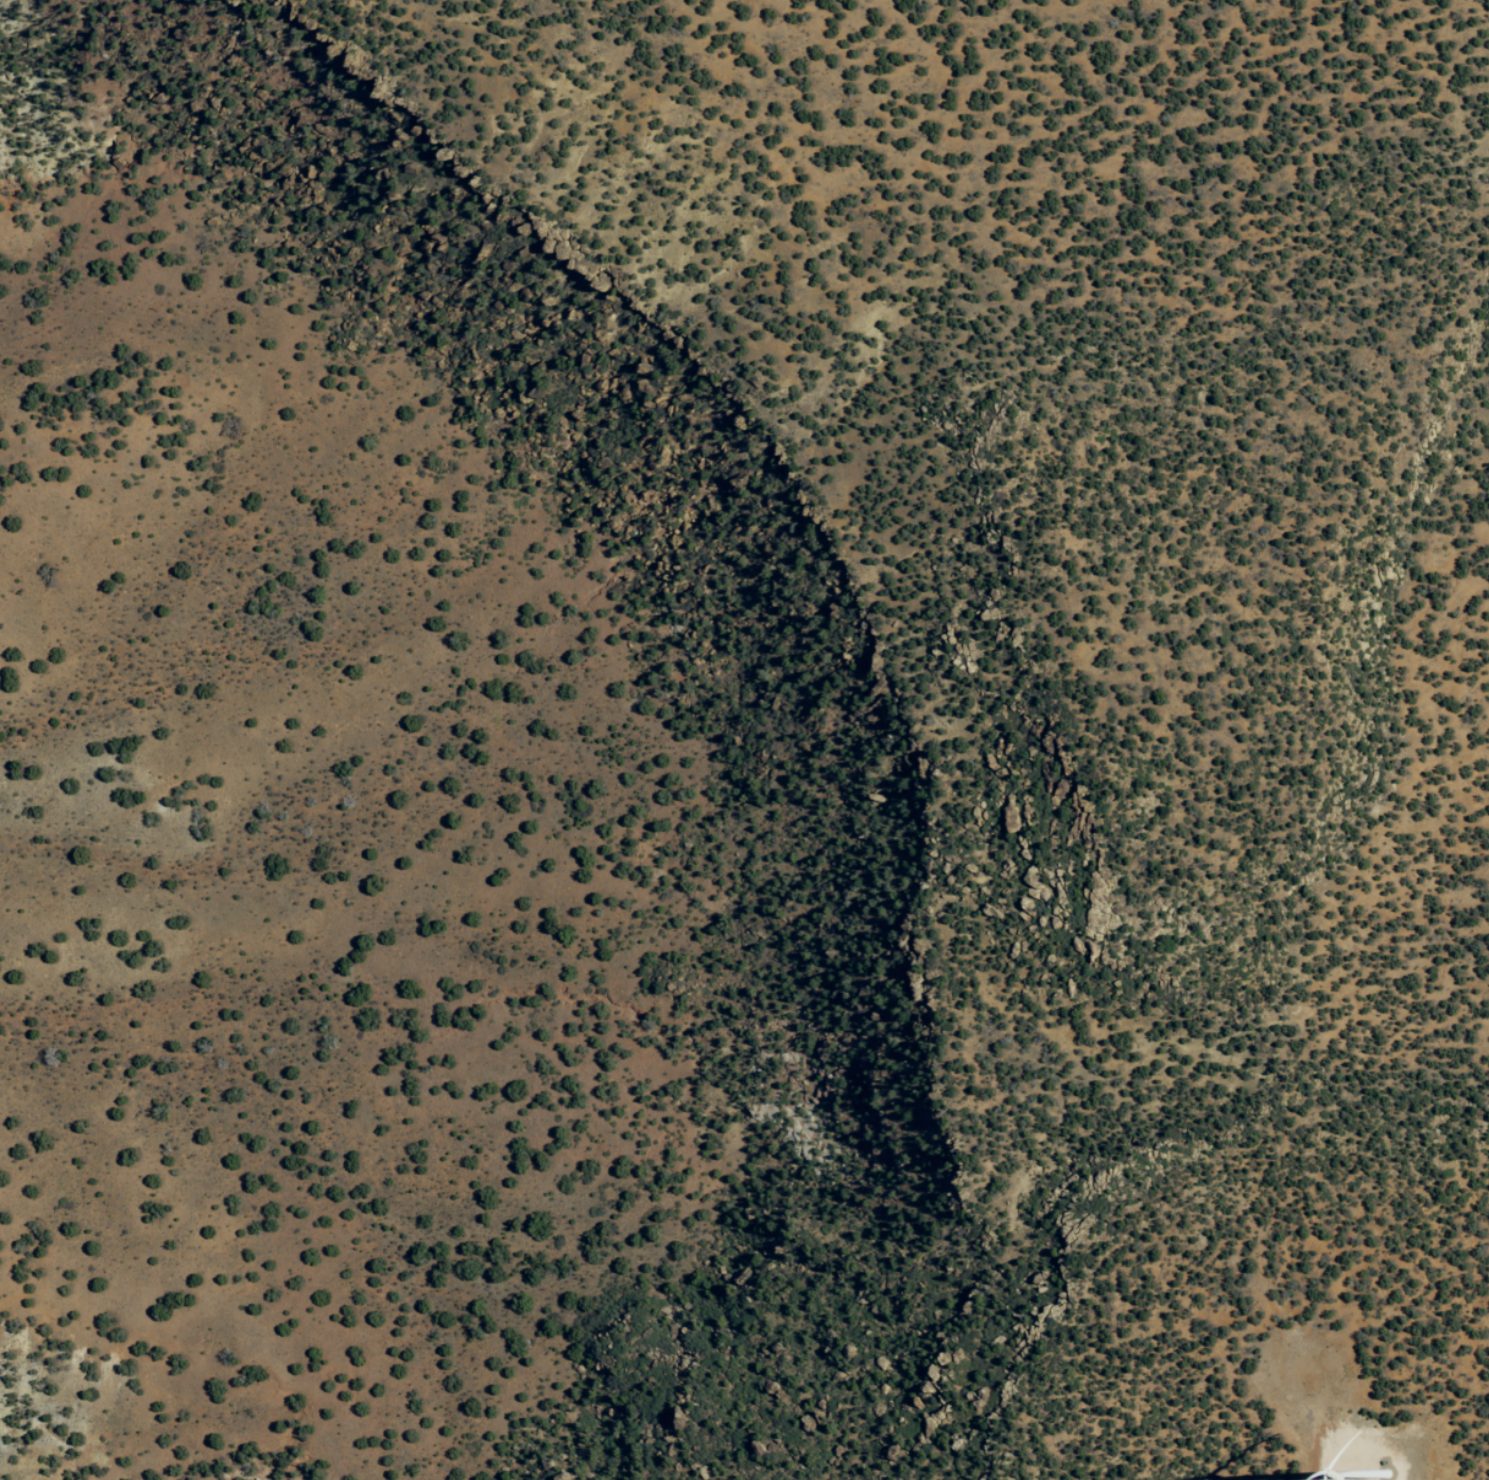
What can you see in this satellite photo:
wind turbine: (1380, 1469)

